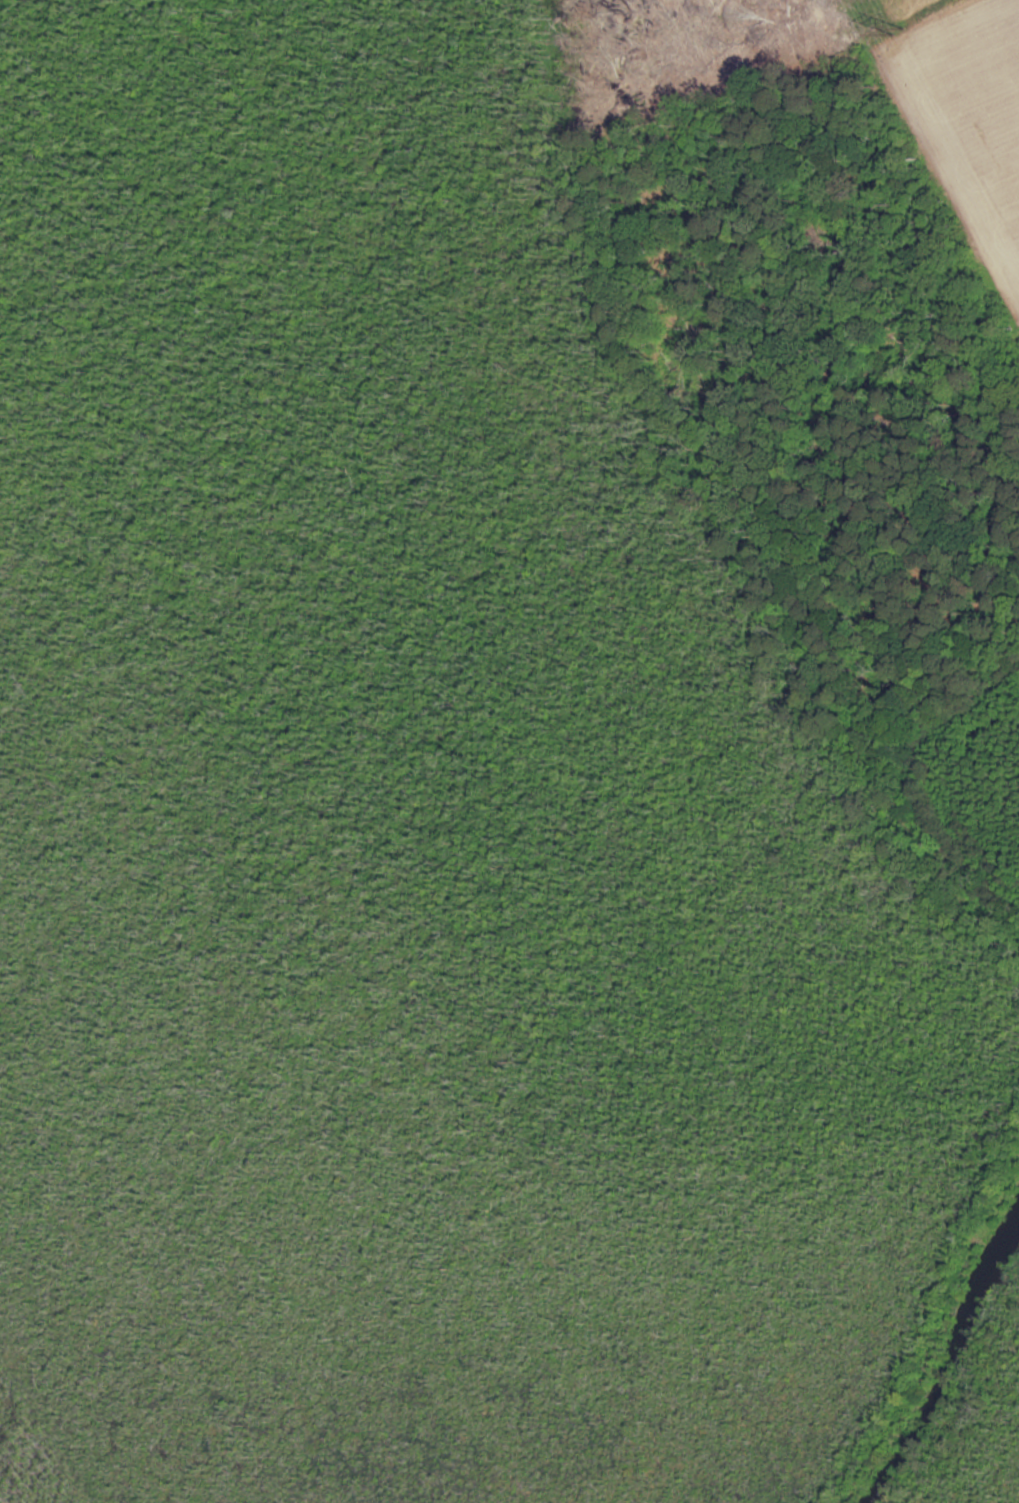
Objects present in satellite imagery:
power tower: (898, 31)

